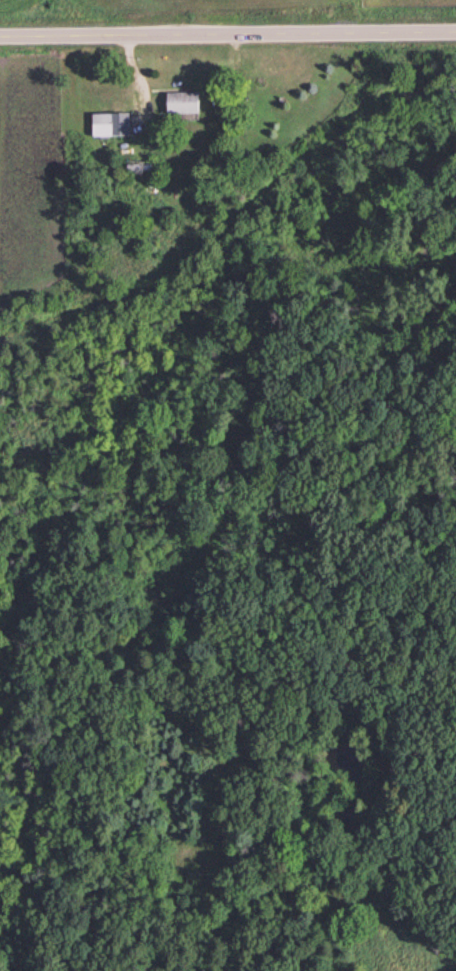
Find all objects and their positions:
crop: (19, 3)
crop: (192, 6)
road: (228, 33)
building: (182, 101)
building: (110, 122)

